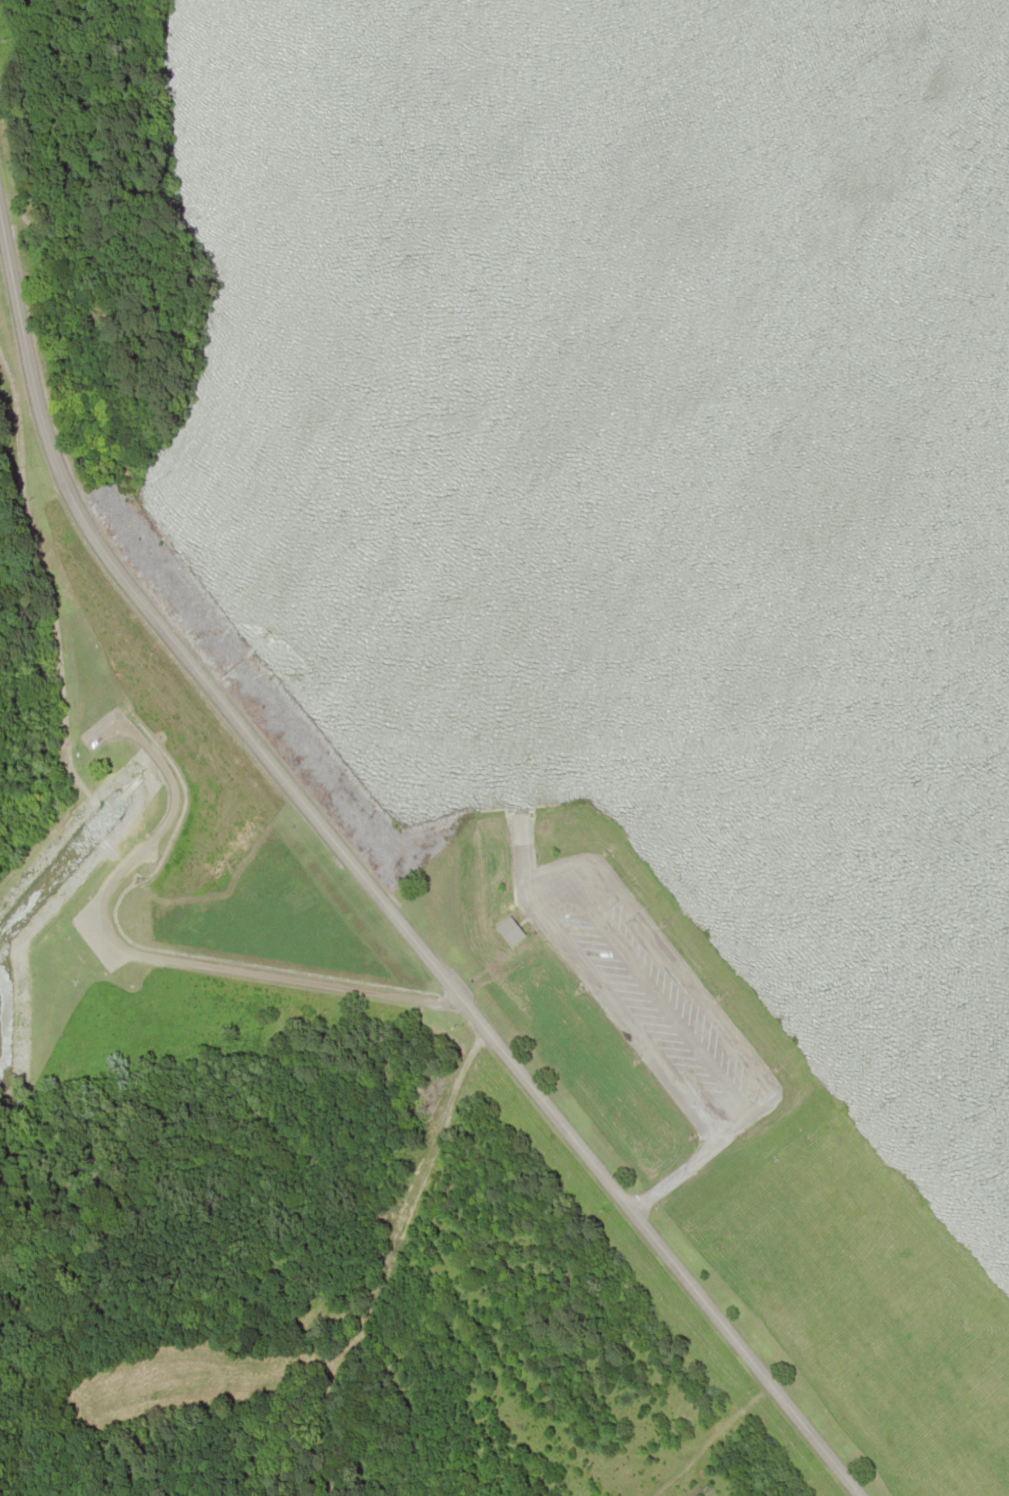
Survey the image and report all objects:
river: (621, 609)
road: (372, 890)
building: (509, 930)

